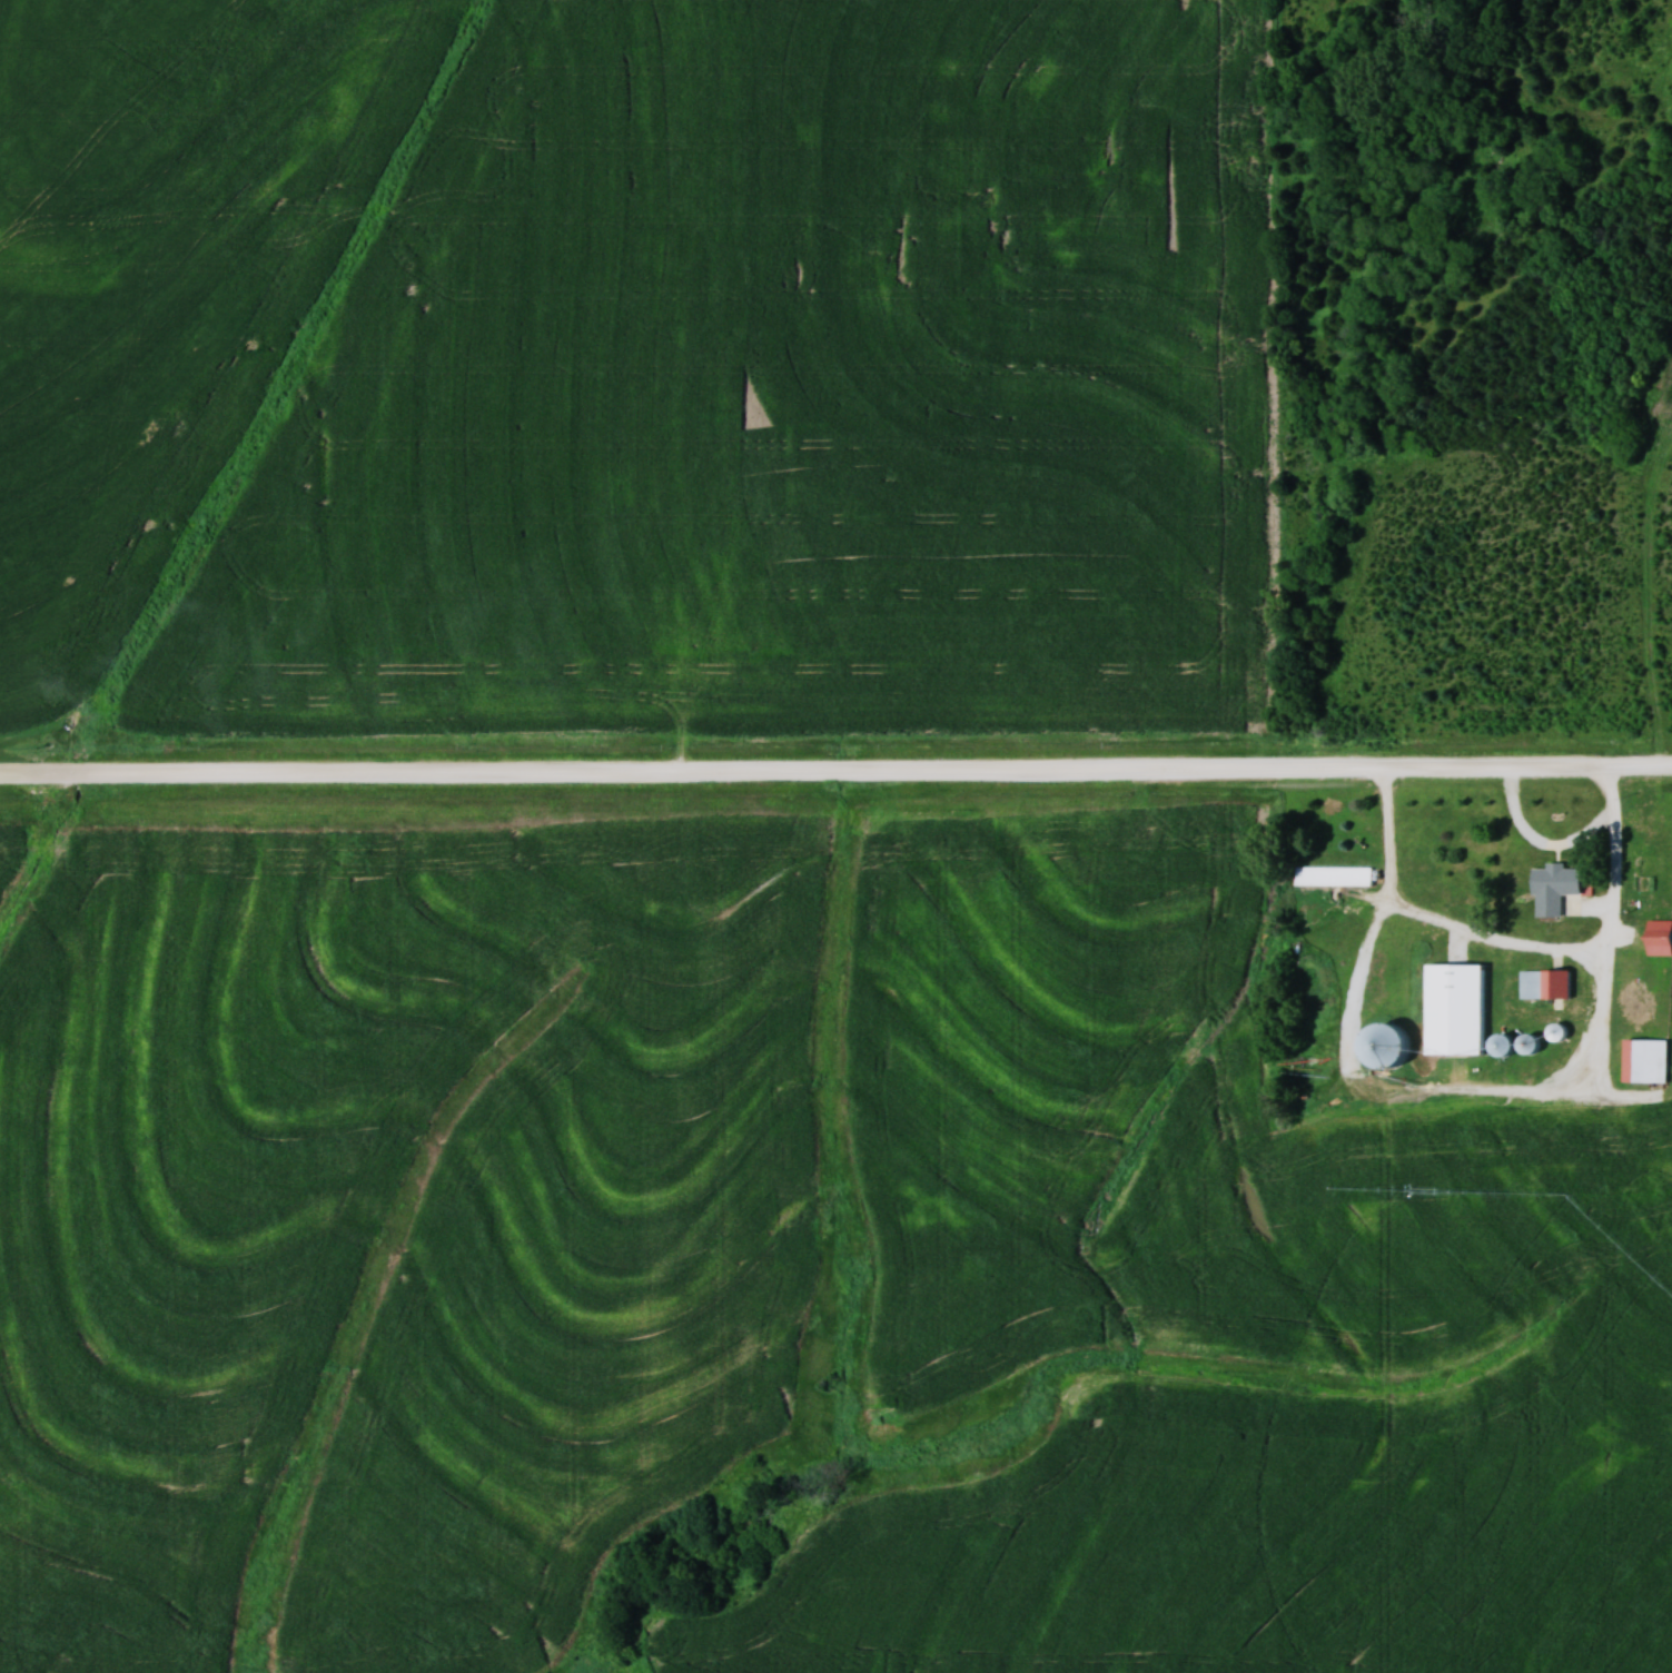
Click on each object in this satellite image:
road: (835, 770)
road: (1541, 841)
building: (1334, 874)
building: (1554, 885)
road: (1438, 919)
road: (1614, 930)
building: (1659, 936)
building: (1545, 982)
building: (1467, 1011)
building: (1385, 1045)
building: (1646, 1059)
road: (1530, 1092)

